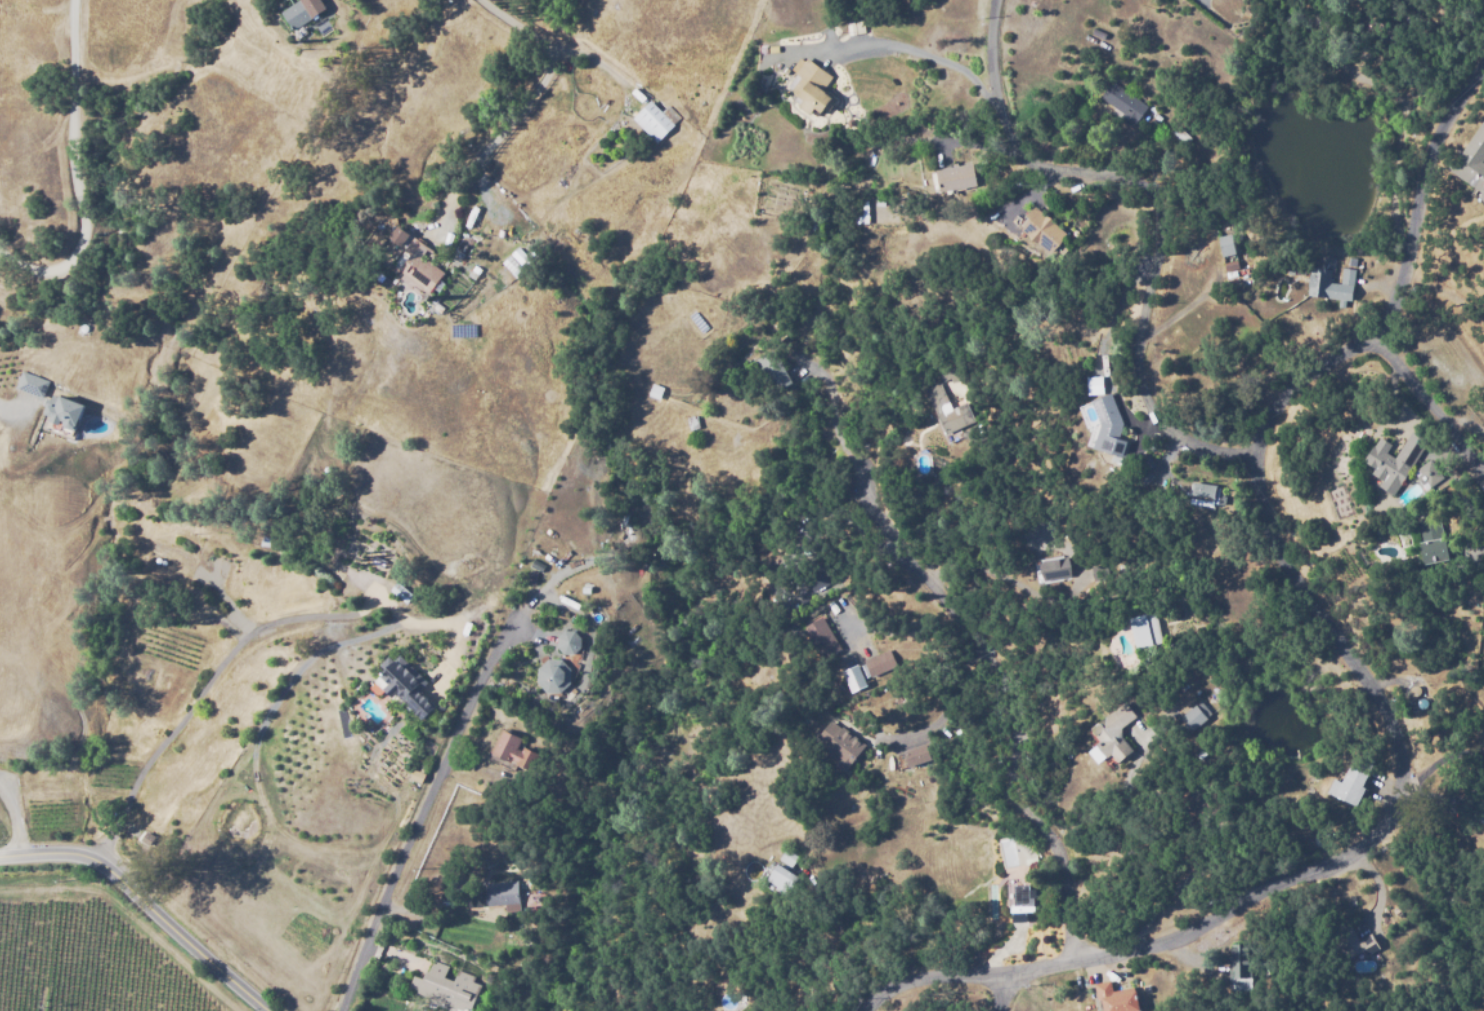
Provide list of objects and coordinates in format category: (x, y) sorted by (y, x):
building: (303, 12)
building: (1097, 34)
road: (895, 45)
road: (557, 47)
building: (812, 86)
building: (1125, 104)
building: (655, 121)
building: (1471, 162)
road: (74, 172)
building: (951, 179)
building: (878, 200)
building: (860, 212)
road: (1152, 213)
building: (1045, 232)
building: (1229, 252)
building: (520, 257)
building: (419, 266)
building: (1297, 272)
building: (1320, 278)
building: (788, 345)
building: (775, 371)
building: (953, 373)
building: (31, 383)
building: (1094, 384)
building: (657, 391)
road: (1427, 398)
building: (948, 410)
building: (63, 411)
building: (1106, 418)
building: (694, 422)
building: (1483, 424)
road: (1477, 456)
building: (1395, 460)
building: (1428, 474)
building: (1147, 478)
building: (1208, 494)
building: (286, 522)
building: (272, 529)
building: (134, 539)
building: (322, 540)
building: (272, 542)
building: (1432, 543)
building: (165, 561)
building: (1056, 569)
building: (820, 575)
building: (49, 592)
building: (401, 593)
building: (487, 625)
building: (1144, 630)
building: (821, 636)
road: (249, 638)
building: (569, 642)
building: (882, 662)
building: (554, 676)
road: (1360, 676)
building: (856, 678)
building: (409, 684)
building: (1412, 689)
road: (1012, 698)
building: (1420, 702)
building: (1193, 718)
building: (1114, 732)
building: (841, 745)
building: (514, 751)
building: (917, 757)
building: (420, 773)
building: (1349, 785)
building: (1204, 799)
building: (1481, 813)
road: (15, 821)
road: (420, 826)
building: (789, 856)
building: (782, 879)
building: (502, 893)
building: (475, 900)
building: (1024, 901)
road: (146, 905)
building: (1351, 940)
building: (1239, 959)
building: (447, 988)
road: (1000, 990)
building: (1117, 997)

